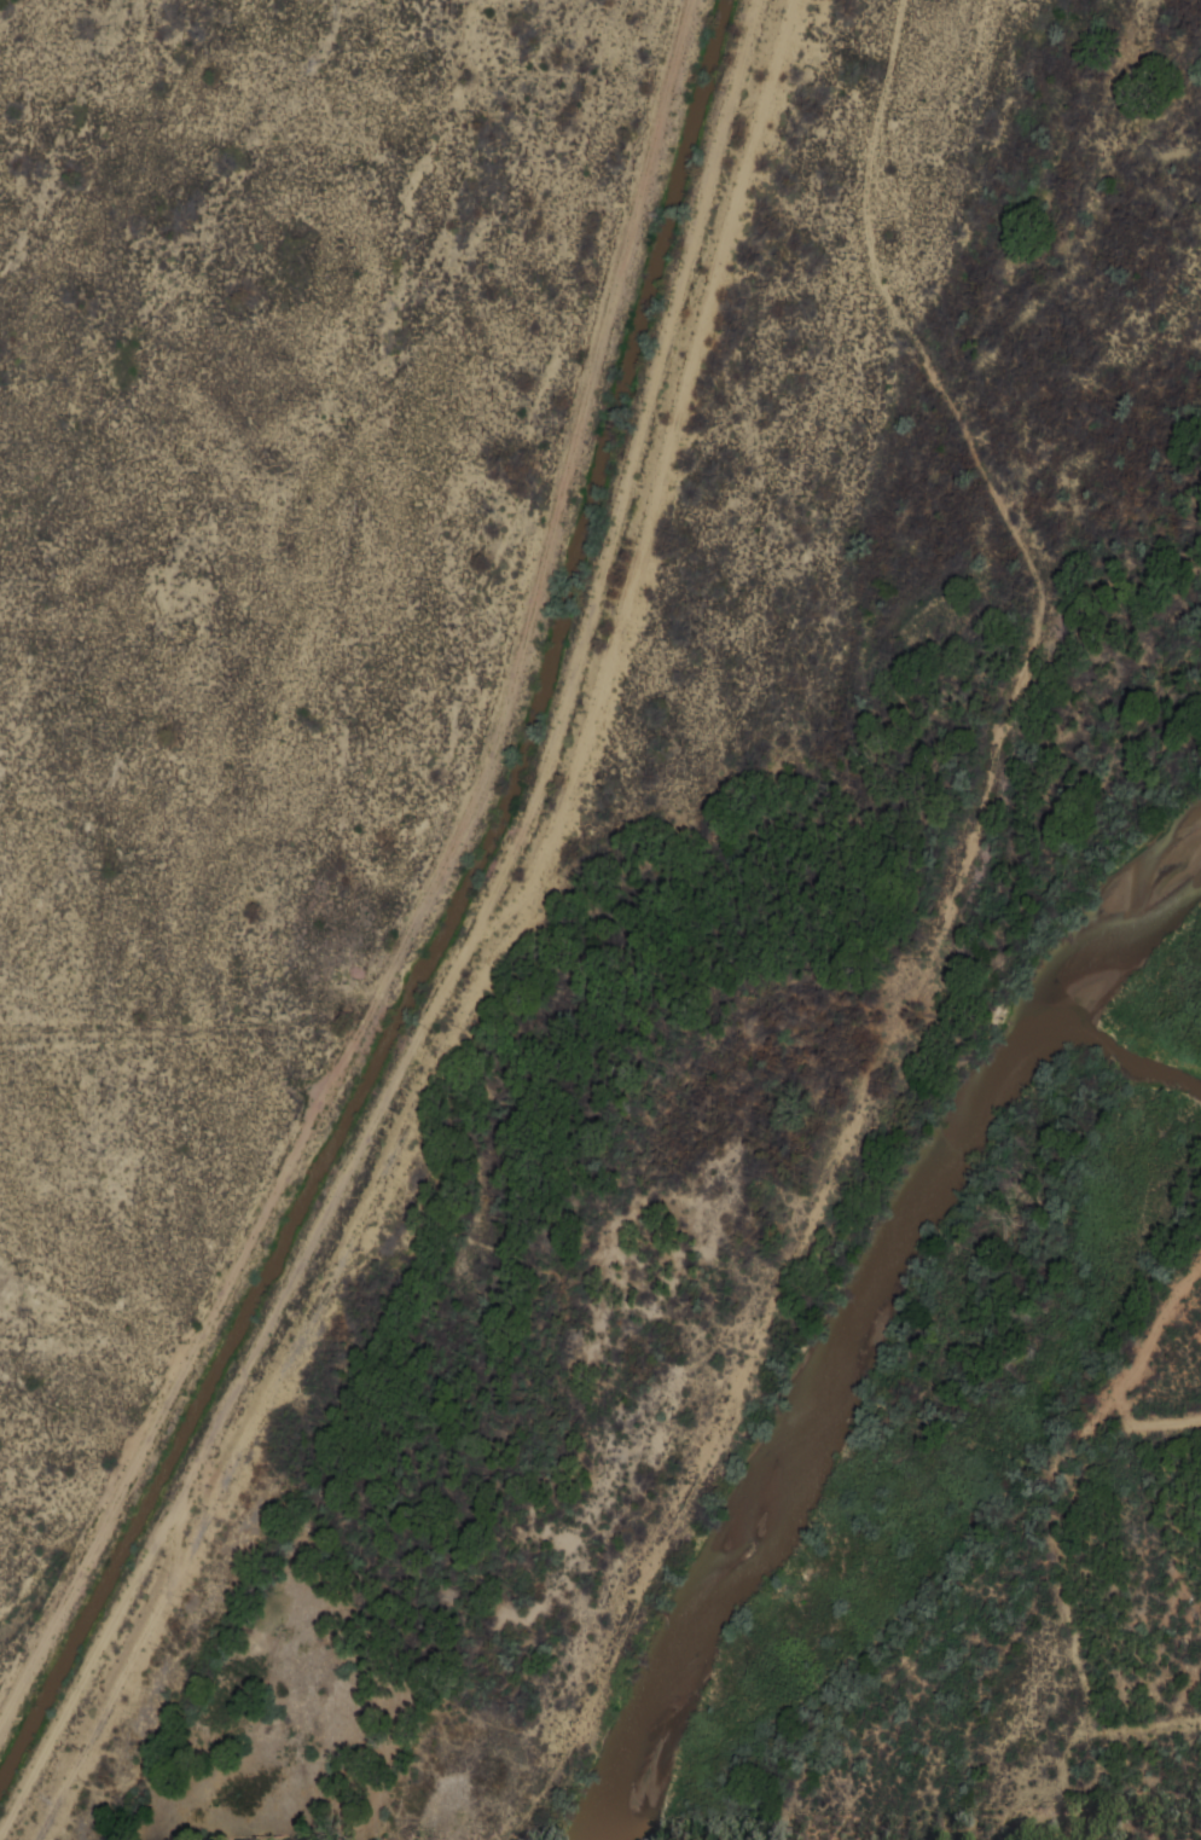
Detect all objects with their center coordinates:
road: (80, 1292)
river: (853, 1323)

